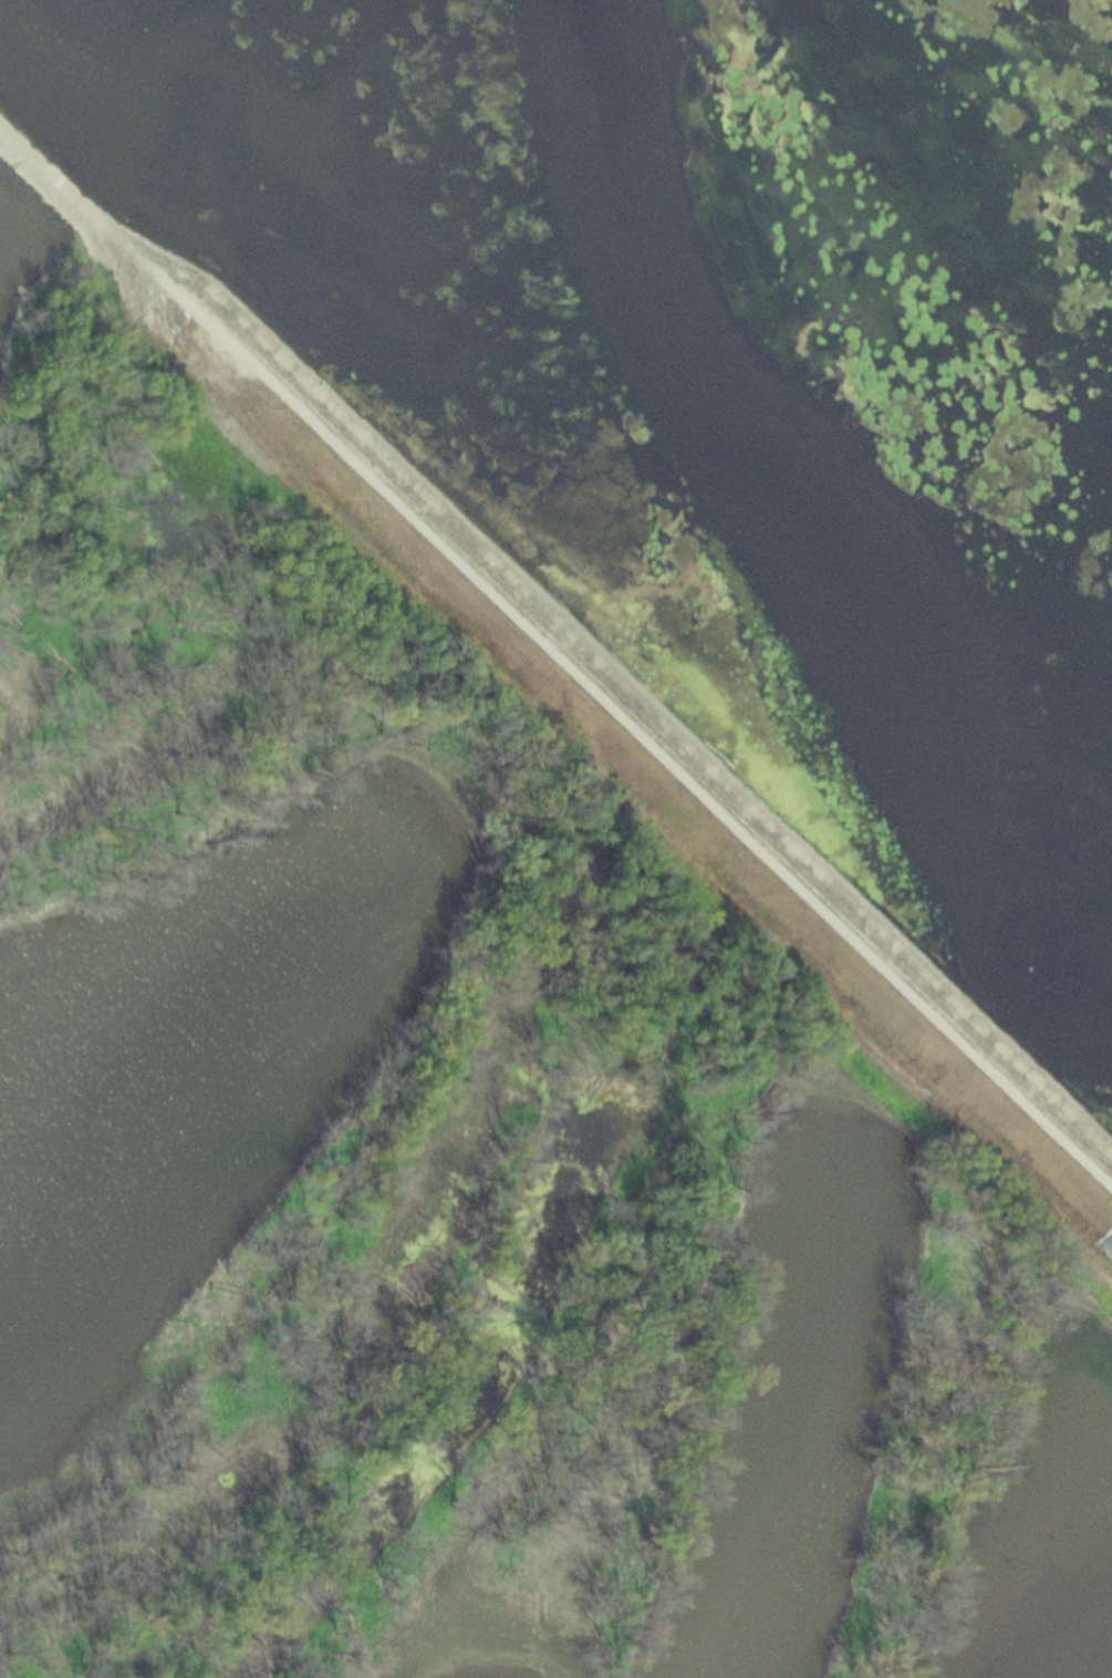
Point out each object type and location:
dam: (555, 673)

